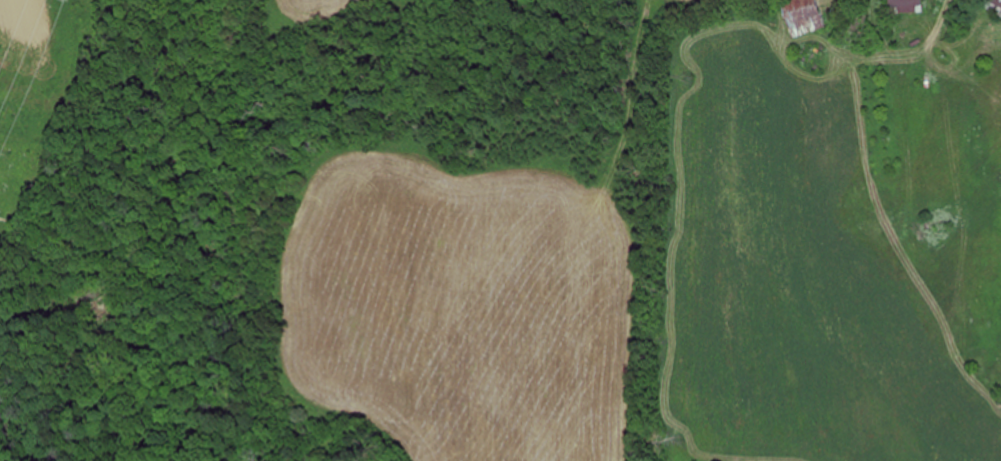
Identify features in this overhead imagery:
building: (990, 6)
building: (903, 7)
building: (802, 16)

